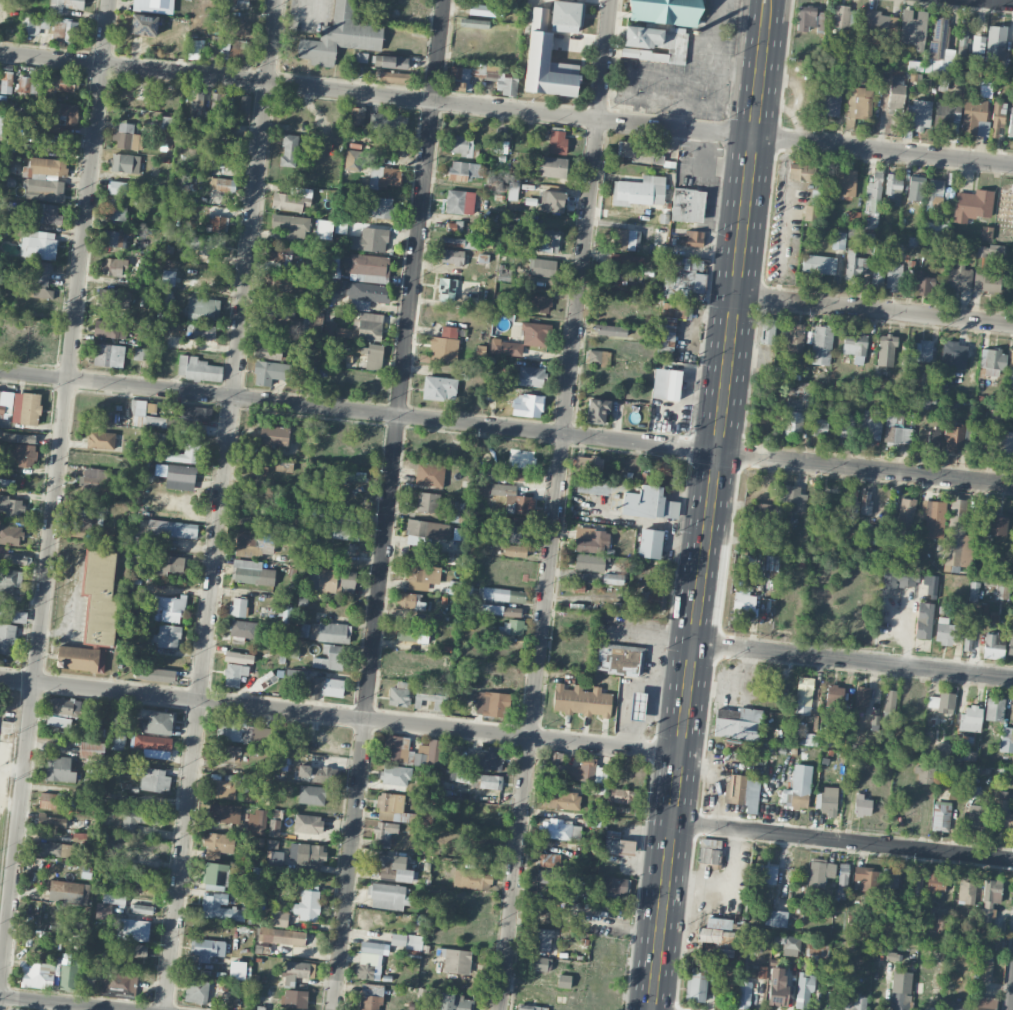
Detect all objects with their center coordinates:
road: (1009, 0)
building: (64, 5)
building: (153, 6)
building: (485, 9)
building: (666, 11)
building: (841, 17)
building: (810, 18)
building: (474, 23)
building: (34, 24)
building: (143, 25)
building: (879, 25)
building: (236, 26)
road: (761, 26)
road: (771, 26)
building: (913, 27)
building: (65, 31)
building: (340, 36)
building: (963, 38)
building: (996, 42)
building: (654, 44)
building: (940, 44)
building: (538, 47)
building: (195, 49)
building: (233, 51)
road: (709, 54)
building: (391, 62)
road: (614, 70)
building: (394, 77)
building: (458, 78)
building: (495, 78)
road: (623, 81)
building: (7, 82)
building: (30, 82)
building: (61, 83)
building: (986, 89)
building: (197, 97)
road: (716, 97)
building: (896, 99)
building: (859, 103)
building: (218, 104)
building: (245, 104)
building: (828, 104)
road: (506, 109)
building: (918, 114)
building: (946, 114)
building: (357, 115)
building: (61, 116)
building: (975, 118)
building: (997, 118)
building: (1011, 123)
building: (387, 124)
building: (1, 125)
building: (127, 137)
building: (221, 137)
building: (557, 141)
building: (463, 146)
building: (500, 146)
building: (289, 150)
building: (635, 150)
building: (221, 159)
building: (354, 160)
building: (125, 163)
building: (548, 166)
building: (464, 170)
building: (801, 172)
building: (384, 177)
building: (44, 179)
building: (186, 182)
building: (846, 182)
road: (699, 183)
building: (222, 184)
building: (892, 187)
building: (120, 188)
building: (915, 188)
building: (512, 191)
building: (639, 191)
building: (934, 193)
building: (292, 199)
building: (552, 201)
building: (460, 202)
building: (872, 202)
building: (1005, 204)
building: (687, 205)
building: (972, 205)
building: (378, 207)
building: (118, 209)
building: (45, 213)
building: (809, 213)
building: (852, 218)
building: (215, 223)
road: (707, 224)
building: (291, 226)
building: (936, 228)
building: (324, 229)
building: (516, 230)
building: (986, 233)
building: (114, 238)
building: (625, 238)
building: (692, 238)
building: (373, 239)
building: (838, 240)
building: (452, 241)
building: (544, 243)
building: (41, 244)
building: (207, 247)
building: (991, 249)
building: (279, 253)
building: (451, 256)
building: (626, 260)
building: (696, 264)
building: (818, 264)
building: (856, 266)
building: (111, 267)
building: (368, 268)
building: (541, 268)
building: (504, 274)
building: (877, 274)
building: (893, 276)
building: (958, 278)
building: (40, 280)
building: (278, 282)
building: (923, 282)
building: (986, 282)
building: (446, 289)
building: (673, 289)
building: (359, 292)
building: (112, 298)
building: (540, 303)
building: (163, 304)
road: (875, 308)
building: (203, 309)
building: (278, 309)
building: (677, 310)
building: (291, 324)
building: (367, 325)
building: (110, 329)
building: (610, 330)
building: (200, 331)
building: (768, 331)
building: (535, 334)
building: (262, 338)
building: (793, 343)
building: (444, 344)
building: (821, 345)
building: (854, 346)
building: (505, 347)
building: (886, 350)
building: (267, 351)
building: (919, 351)
building: (142, 354)
building: (108, 355)
building: (953, 355)
building: (372, 356)
building: (597, 357)
building: (992, 359)
building: (1011, 368)
building: (198, 369)
building: (270, 372)
building: (530, 376)
building: (666, 384)
building: (439, 388)
building: (6, 403)
building: (527, 405)
building: (26, 408)
building: (597, 410)
building: (192, 413)
building: (145, 416)
building: (994, 416)
building: (793, 420)
building: (173, 423)
building: (869, 425)
road: (506, 427)
building: (818, 427)
building: (896, 429)
building: (274, 435)
building: (932, 436)
building: (954, 437)
building: (21, 438)
building: (101, 440)
building: (1003, 444)
building: (24, 454)
building: (185, 454)
building: (254, 464)
building: (593, 464)
building: (663, 468)
building: (429, 474)
building: (180, 477)
building: (523, 477)
building: (97, 481)
building: (592, 486)
building: (490, 488)
road: (55, 489)
building: (792, 498)
building: (428, 502)
building: (648, 503)
building: (864, 503)
road: (219, 504)
building: (517, 504)
road: (388, 505)
road: (556, 505)
building: (10, 506)
building: (457, 511)
building: (906, 513)
building: (767, 515)
building: (347, 517)
building: (518, 520)
building: (934, 520)
building: (79, 523)
building: (996, 526)
building: (172, 529)
building: (426, 531)
road: (706, 531)
building: (514, 533)
building: (10, 534)
building: (345, 534)
building: (457, 534)
building: (958, 536)
building: (591, 540)
building: (249, 543)
building: (650, 543)
building: (515, 551)
building: (590, 562)
building: (168, 565)
building: (251, 573)
building: (421, 576)
building: (613, 578)
building: (311, 580)
building: (897, 580)
building: (336, 581)
building: (9, 582)
building: (930, 585)
building: (1001, 590)
building: (972, 591)
building: (503, 595)
building: (99, 599)
building: (653, 599)
building: (408, 600)
building: (742, 605)
building: (238, 607)
building: (167, 608)
building: (500, 610)
building: (983, 611)
building: (13, 614)
building: (923, 621)
building: (243, 629)
building: (510, 630)
building: (329, 632)
building: (945, 632)
building: (412, 633)
building: (167, 636)
building: (7, 638)
building: (967, 640)
building: (1010, 641)
building: (992, 647)
building: (239, 657)
building: (330, 657)
building: (80, 658)
building: (617, 658)
road: (853, 660)
building: (157, 674)
building: (234, 674)
building: (296, 676)
building: (314, 687)
building: (333, 687)
building: (430, 693)
building: (398, 694)
building: (803, 696)
building: (834, 699)
building: (861, 699)
building: (581, 700)
building: (942, 702)
building: (492, 704)
building: (889, 704)
building: (637, 706)
building: (69, 707)
building: (994, 709)
road: (340, 714)
building: (970, 719)
building: (156, 723)
building: (739, 725)
building: (236, 730)
building: (1006, 739)
building: (118, 741)
building: (153, 746)
building: (395, 748)
building: (92, 750)
building: (226, 752)
building: (428, 753)
building: (487, 760)
building: (456, 763)
building: (59, 769)
building: (314, 773)
building: (923, 774)
building: (395, 775)
building: (152, 779)
building: (480, 780)
building: (798, 787)
building: (222, 789)
building: (743, 792)
building: (311, 795)
building: (624, 797)
building: (828, 799)
building: (563, 800)
building: (54, 801)
building: (862, 805)
building: (390, 807)
building: (1002, 812)
building: (224, 813)
building: (976, 814)
building: (941, 816)
building: (139, 817)
building: (54, 822)
building: (256, 822)
building: (308, 824)
building: (274, 827)
building: (559, 829)
building: (385, 832)
road: (843, 841)
building: (219, 843)
building: (619, 846)
building: (53, 849)
building: (707, 852)
building: (297, 855)
building: (549, 860)
building: (392, 867)
building: (820, 872)
building: (215, 874)
building: (767, 875)
building: (548, 876)
building: (889, 877)
building: (866, 878)
building: (472, 880)
building: (936, 882)
building: (842, 884)
building: (916, 884)
building: (613, 885)
building: (966, 891)
building: (991, 891)
building: (69, 892)
building: (388, 896)
building: (108, 906)
building: (307, 906)
building: (215, 907)
building: (141, 909)
building: (279, 918)
building: (775, 918)
building: (939, 921)
building: (718, 923)
building: (133, 929)
building: (282, 936)
building: (541, 939)
building: (787, 942)
building: (407, 943)
building: (374, 947)
building: (207, 949)
building: (135, 950)
building: (817, 953)
building: (455, 960)
building: (537, 963)
building: (983, 968)
building: (239, 970)
building: (297, 971)
building: (366, 971)
building: (68, 972)
building: (36, 974)
building: (563, 981)
building: (119, 982)
building: (696, 986)
building: (777, 986)
building: (196, 991)
building: (803, 991)
building: (743, 994)
building: (370, 997)
building: (294, 998)
building: (899, 1001)
building: (454, 1002)
road: (58, 1003)
building: (982, 1003)
building: (954, 1005)
building: (526, 1007)

